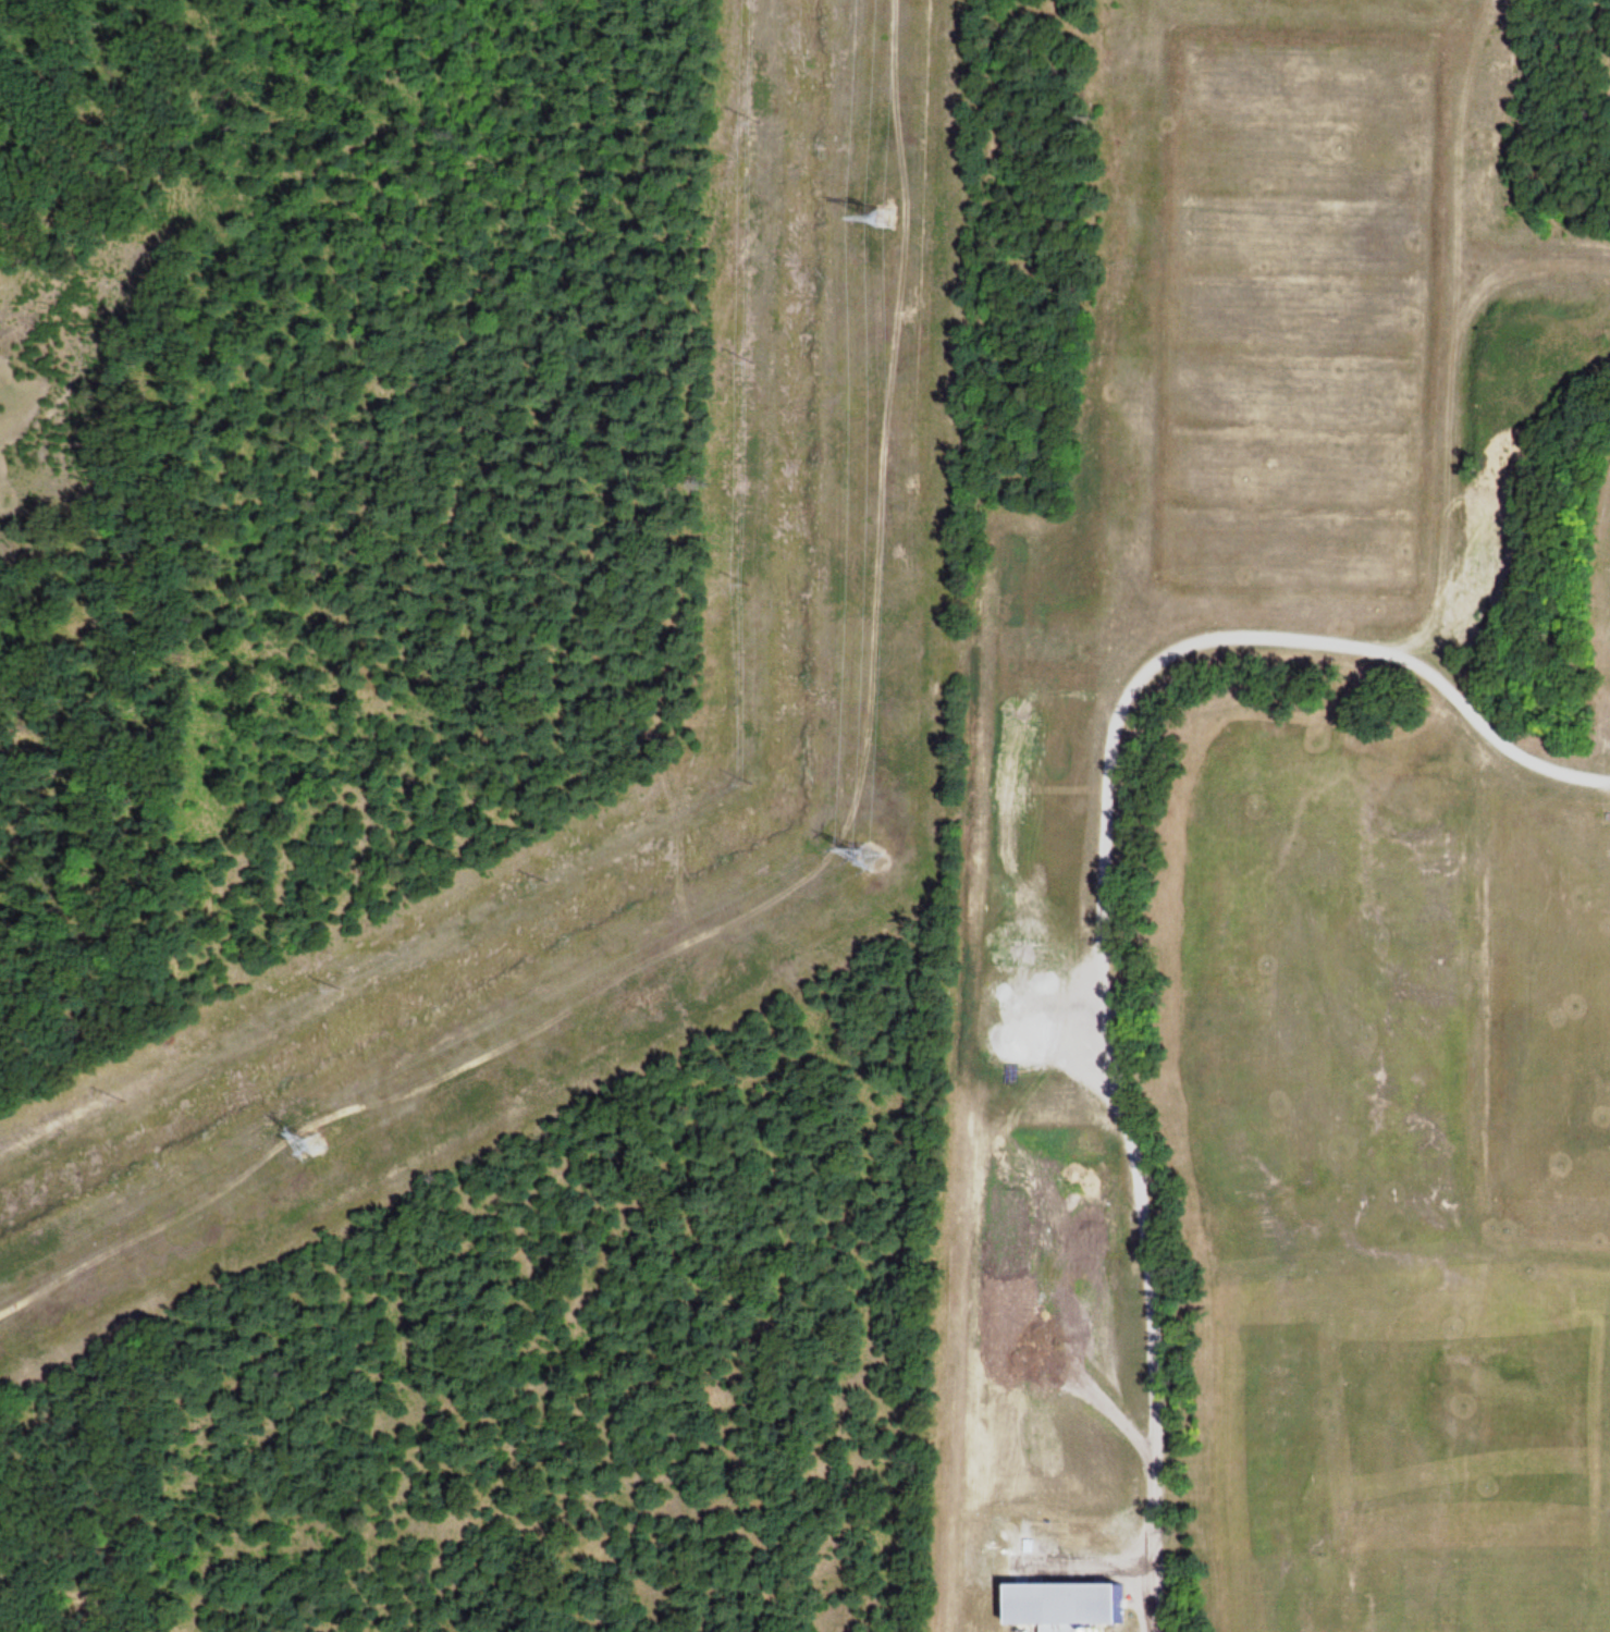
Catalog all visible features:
power tower: (882, 218)
landfill: (1269, 825)
power tower: (870, 856)
road: (1098, 891)
power tower: (311, 1143)
building: (1065, 1603)

